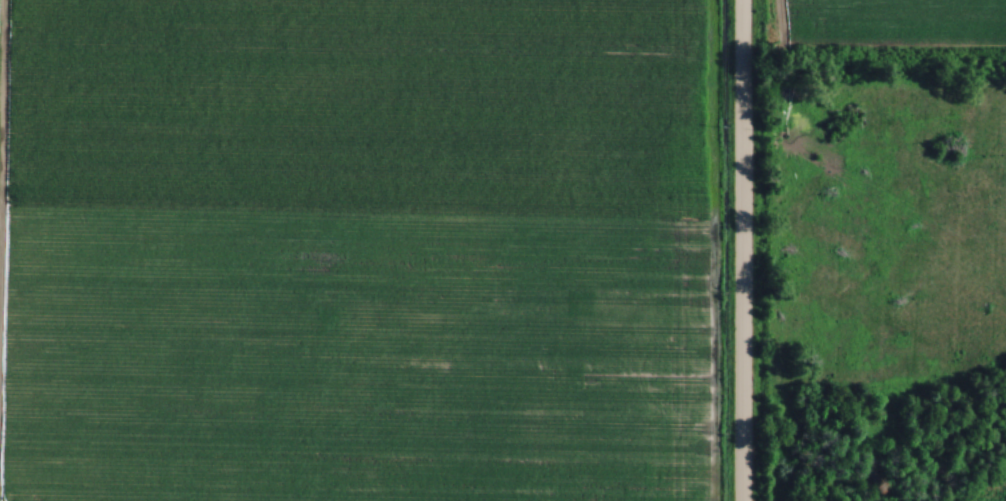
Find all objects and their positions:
road: (739, 250)

